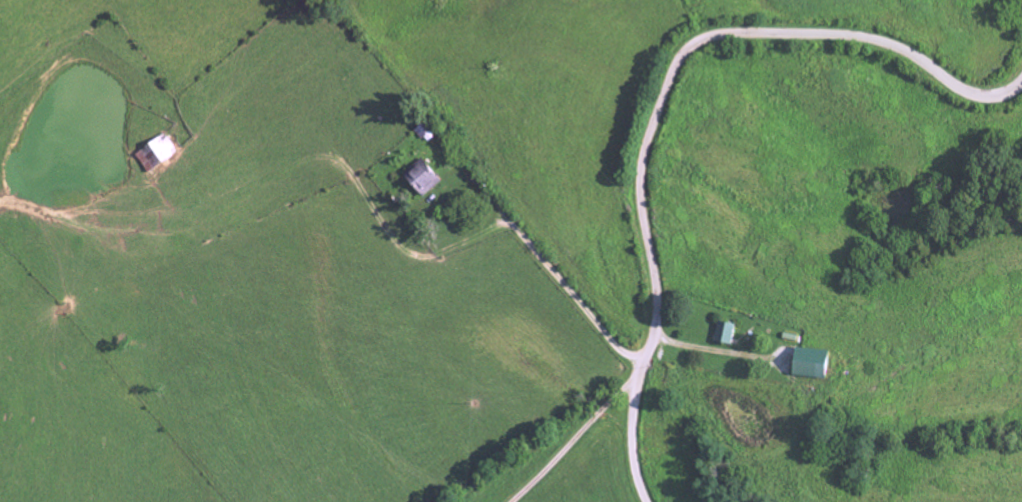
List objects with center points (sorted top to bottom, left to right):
road: (665, 101)
building: (156, 154)
building: (422, 179)
road: (541, 233)
road: (418, 257)
building: (724, 333)
building: (809, 362)
road: (575, 450)

